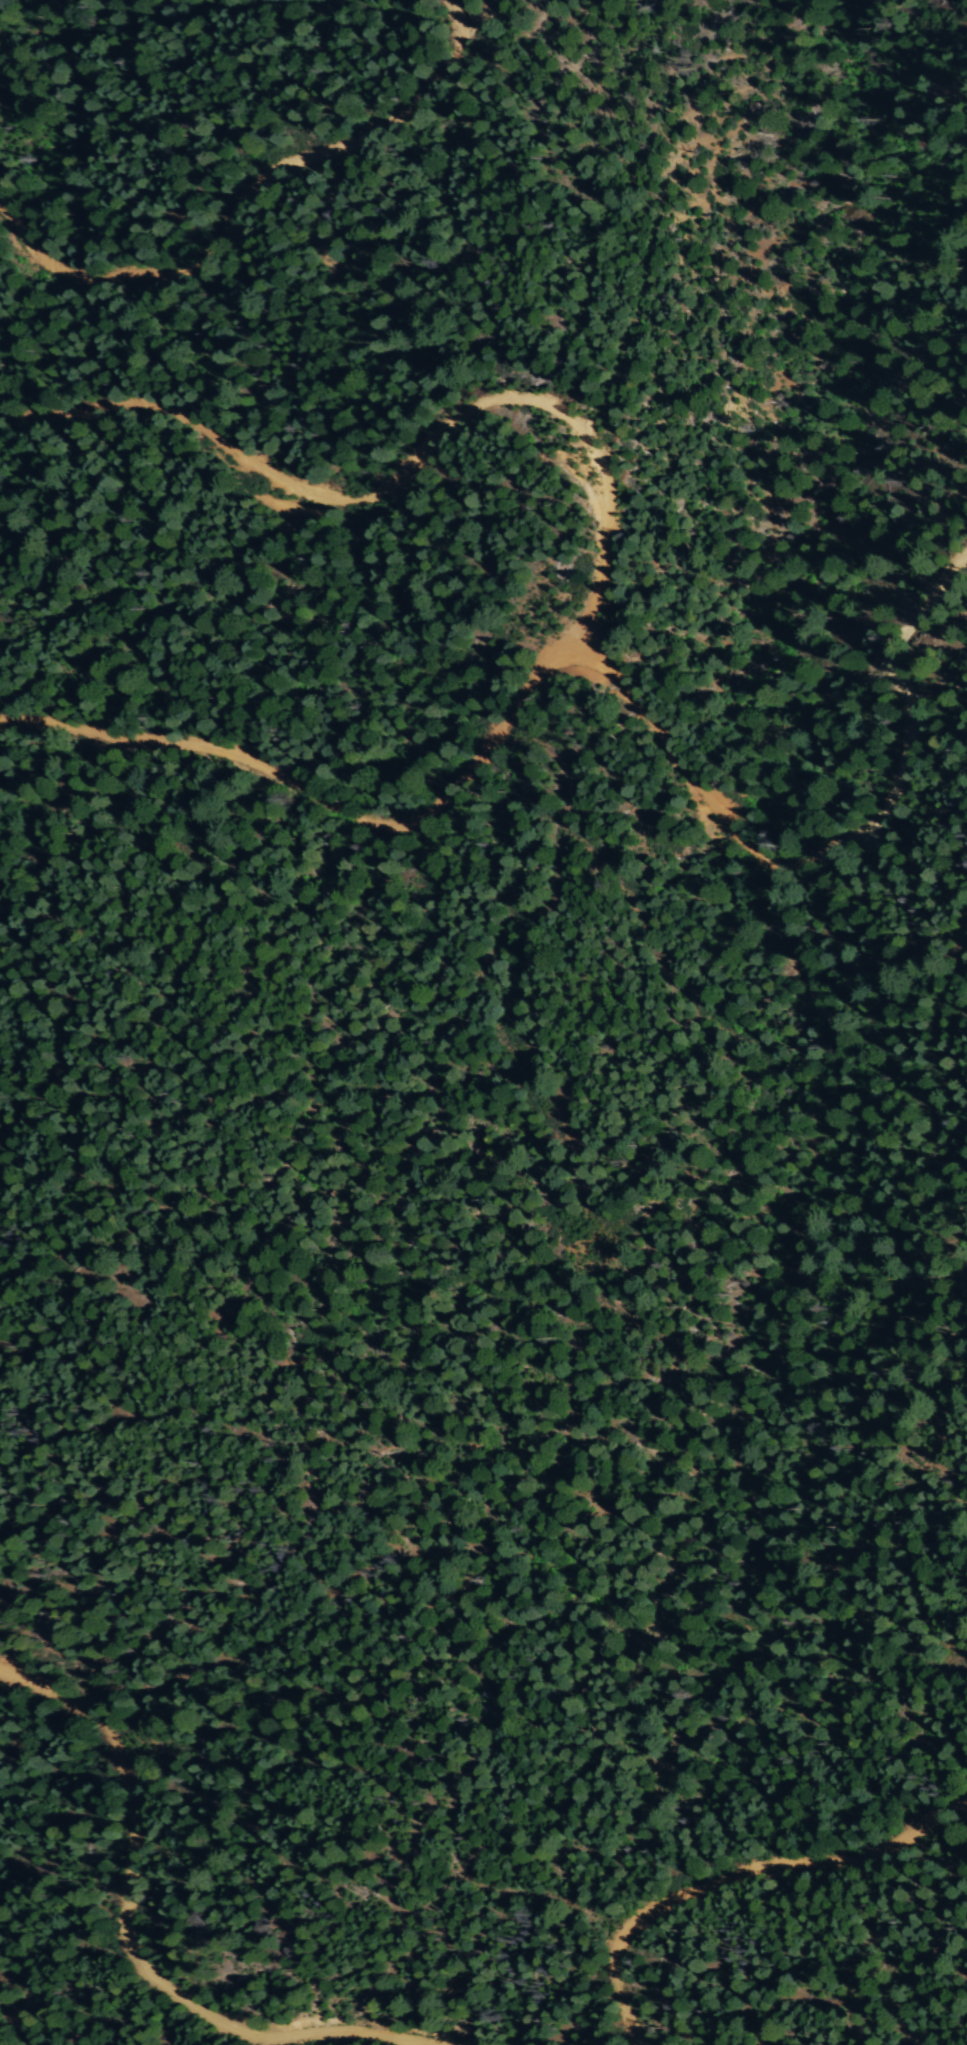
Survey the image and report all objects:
road: (784, 875)

